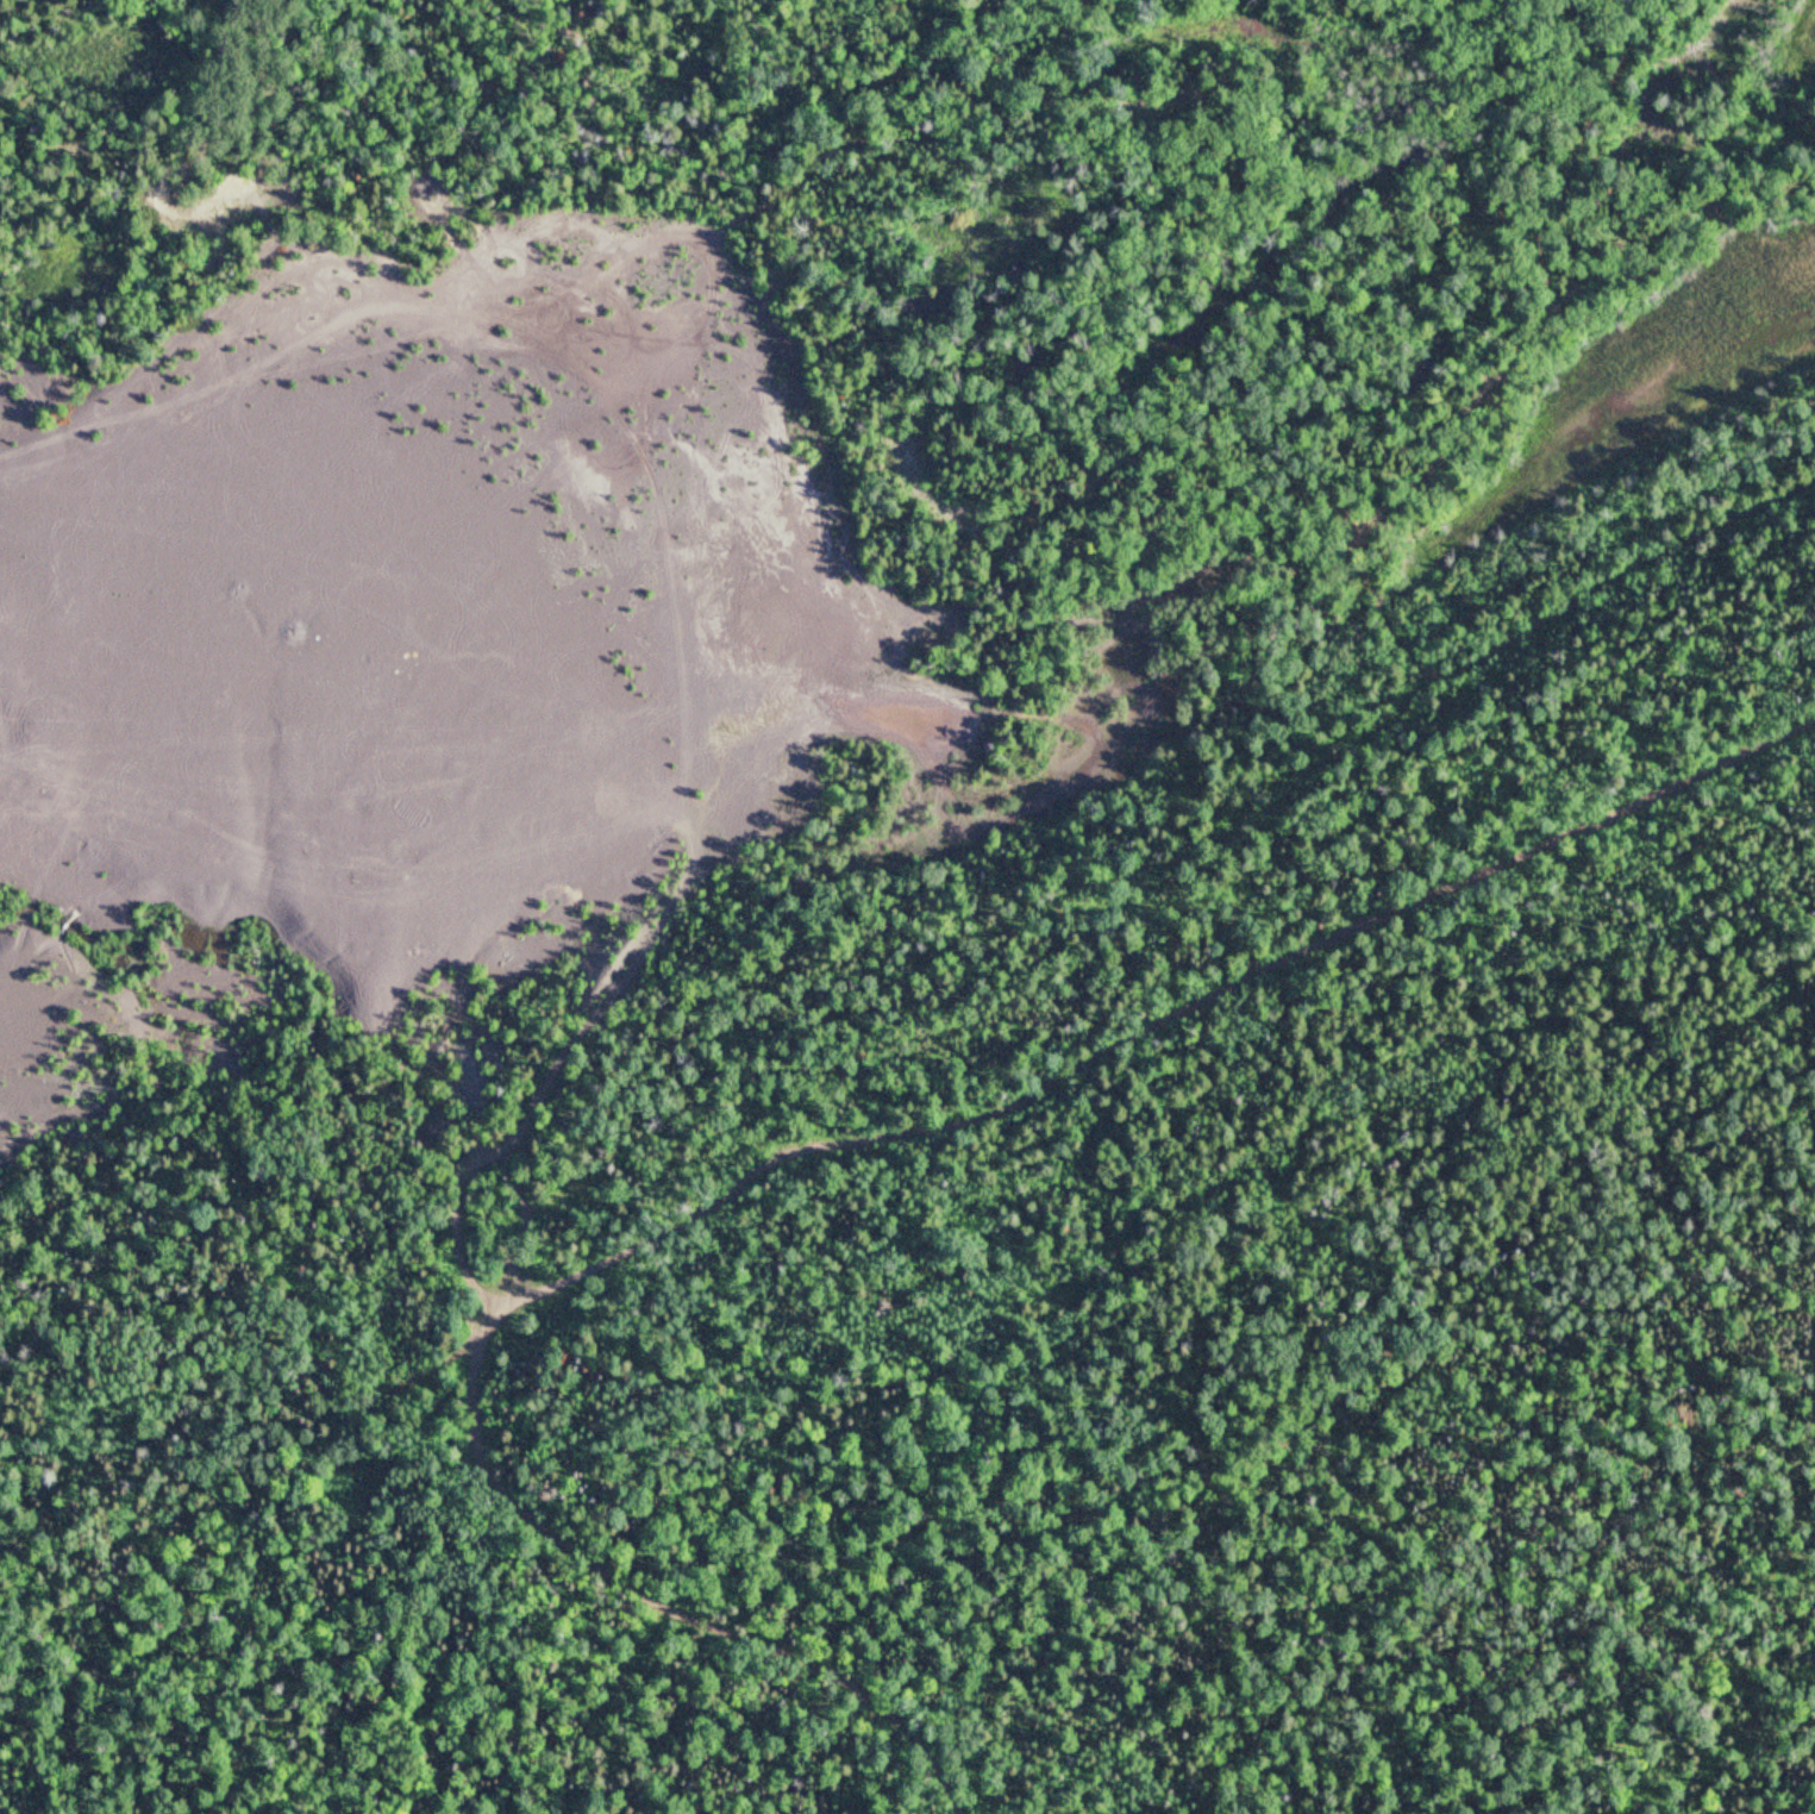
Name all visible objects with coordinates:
landfill: (386, 640)
road: (1460, 874)
road: (561, 1053)
road: (796, 1157)
road: (656, 1595)

